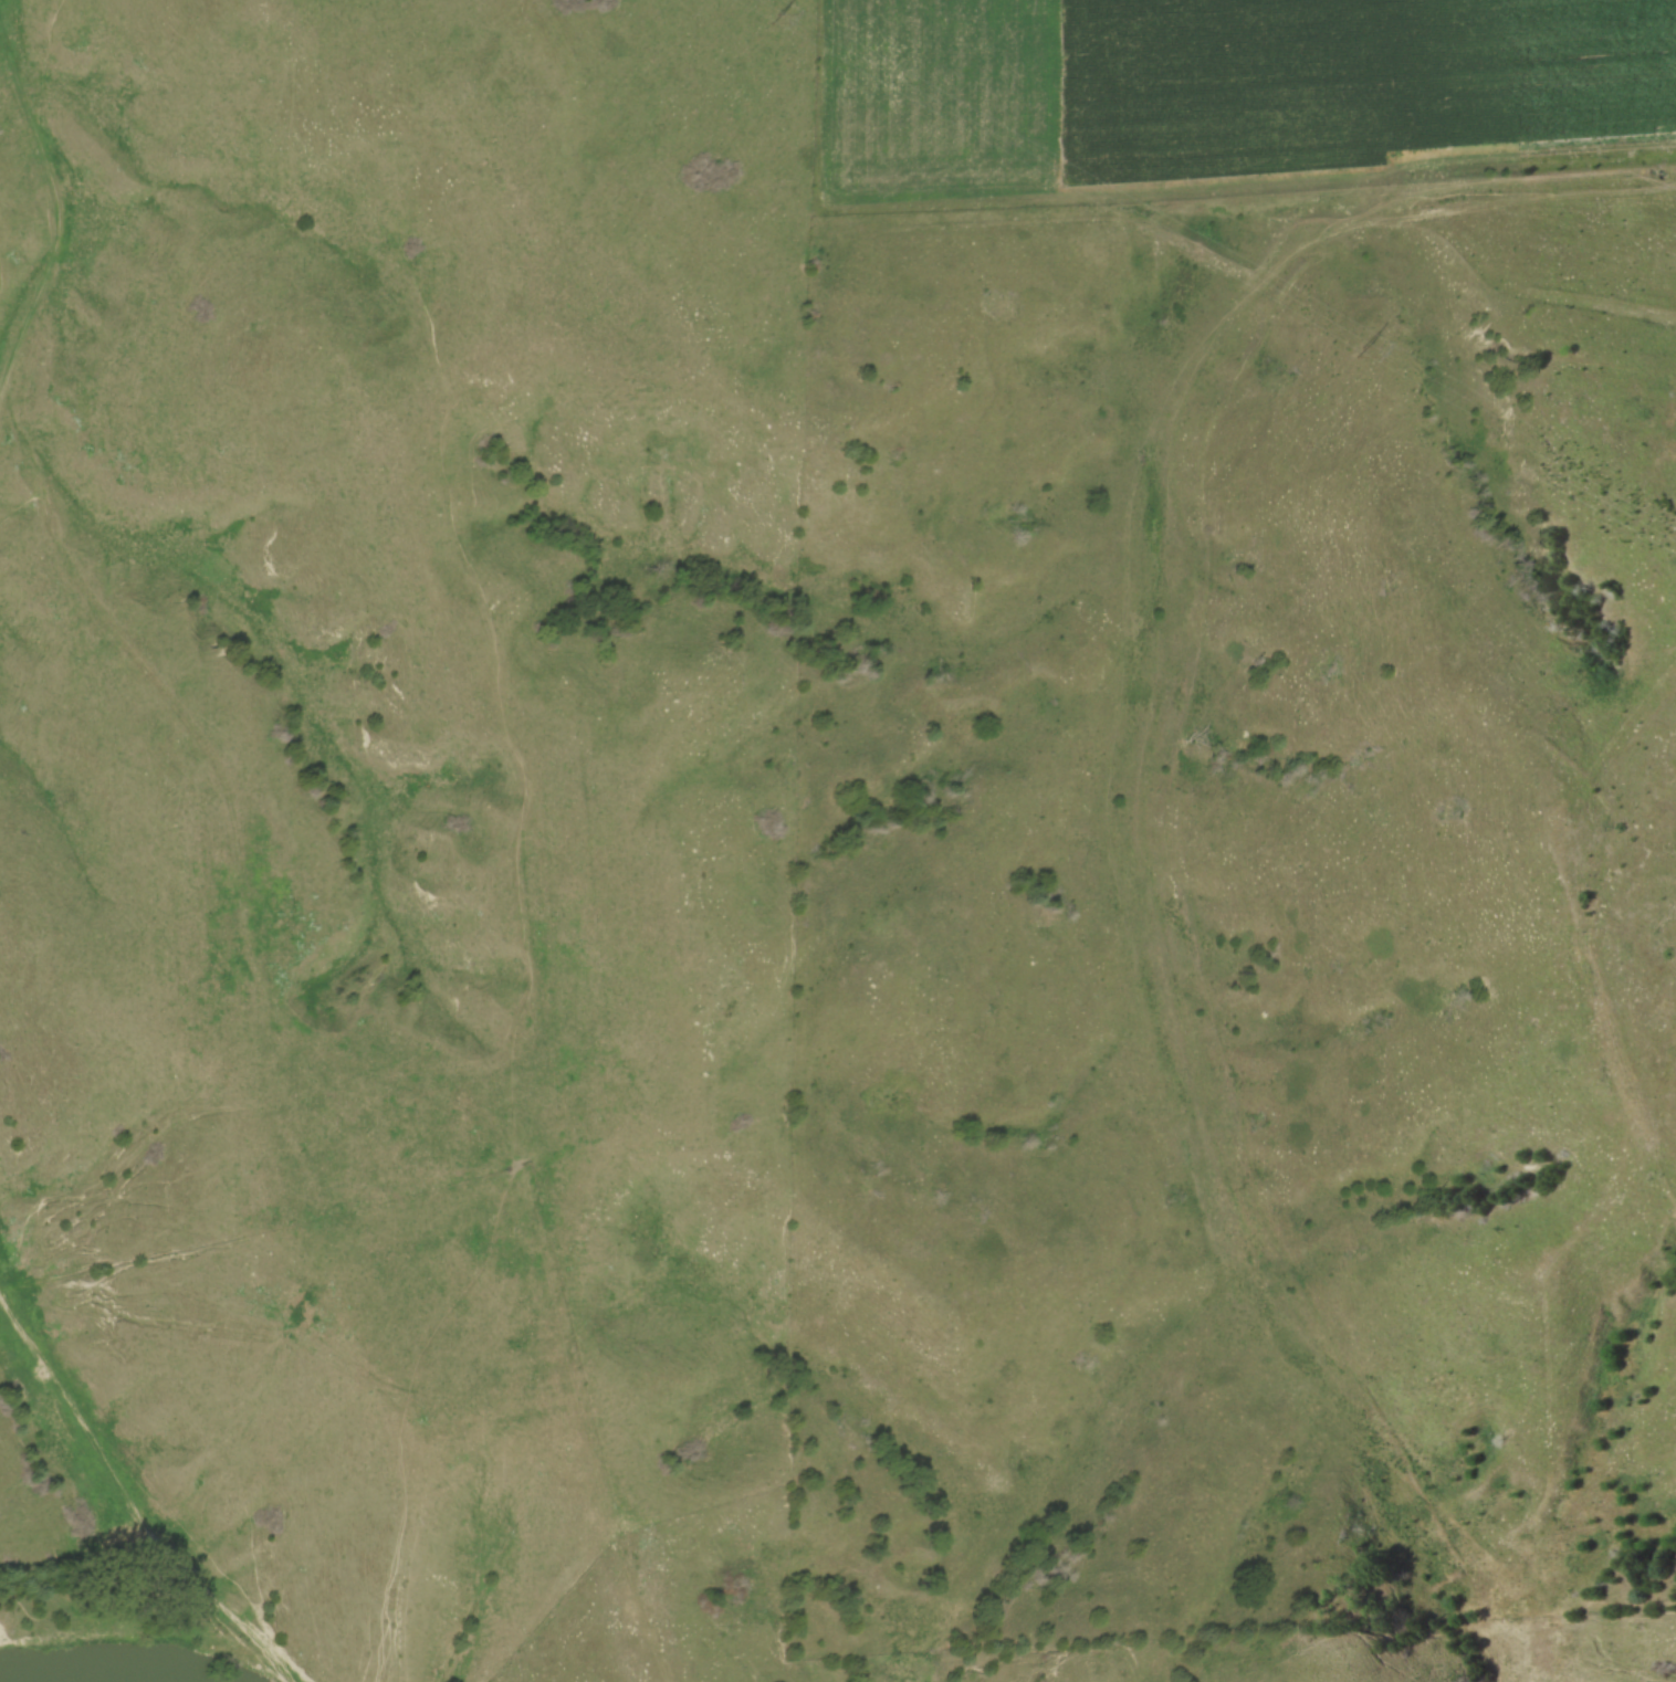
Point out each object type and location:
power tower: (771, 17)
crop: (1227, 86)
power tower: (1354, 350)

